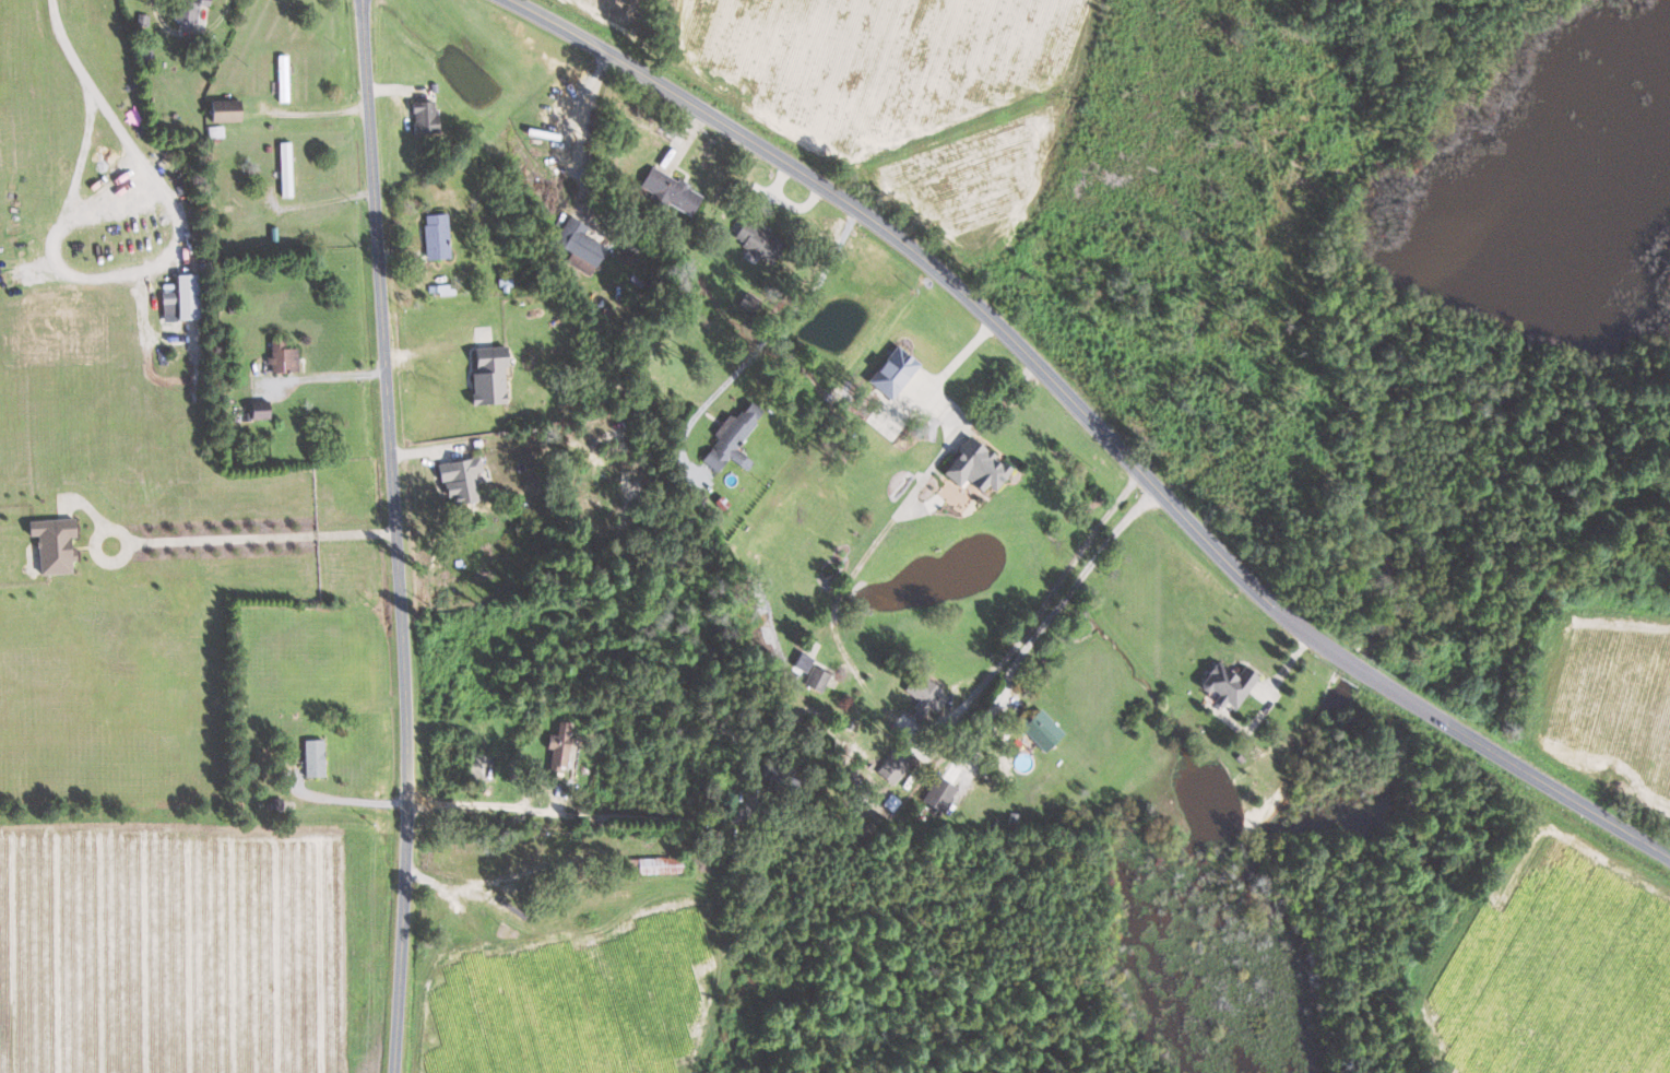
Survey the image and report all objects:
building: (190, 9)
road: (189, 33)
road: (99, 97)
road: (315, 111)
building: (225, 113)
building: (422, 115)
road: (581, 116)
road: (80, 157)
building: (285, 168)
building: (668, 191)
road: (316, 202)
building: (435, 235)
building: (756, 240)
building: (579, 245)
road: (73, 272)
road: (949, 287)
building: (183, 296)
road: (787, 320)
road: (431, 347)
building: (281, 356)
building: (891, 372)
building: (486, 374)
road: (323, 377)
building: (256, 413)
building: (731, 437)
building: (974, 465)
building: (459, 480)
road: (915, 491)
road: (394, 535)
road: (253, 539)
building: (50, 544)
road: (1537, 586)
road: (1045, 624)
road: (1015, 648)
building: (802, 661)
road: (1353, 668)
building: (816, 679)
building: (1227, 683)
building: (924, 694)
building: (1040, 729)
building: (558, 746)
building: (312, 757)
building: (895, 765)
road: (1520, 770)
building: (939, 793)
road: (346, 800)
road: (473, 804)
building: (659, 865)

